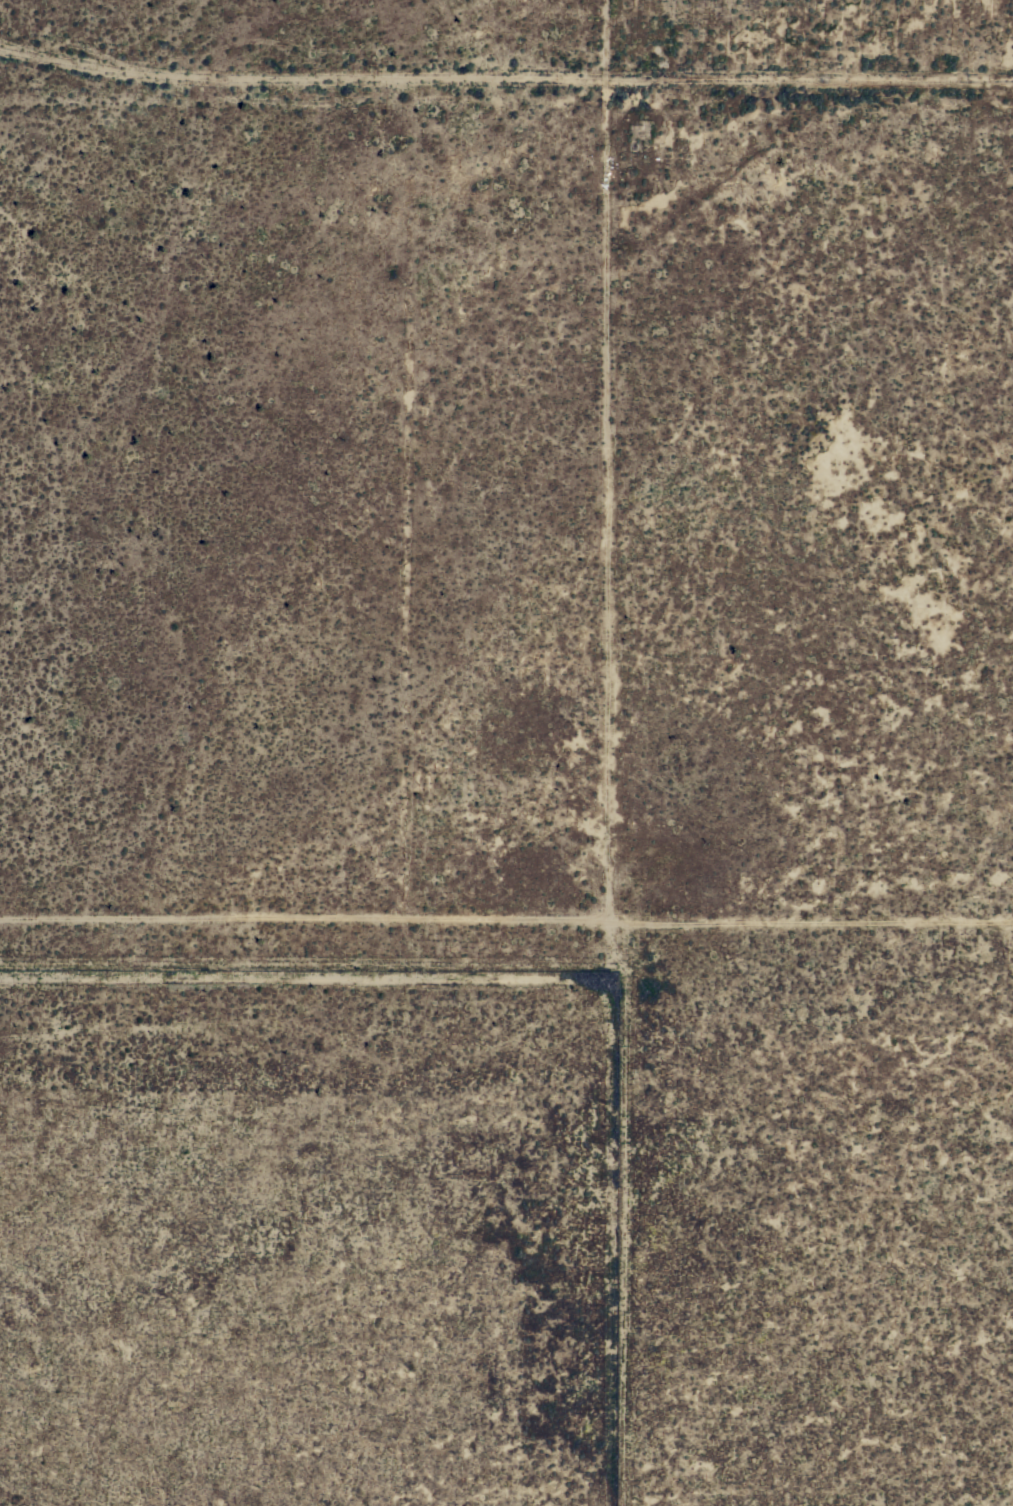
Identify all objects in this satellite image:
road: (306, 40)
road: (504, 77)
road: (308, 919)
road: (815, 923)

